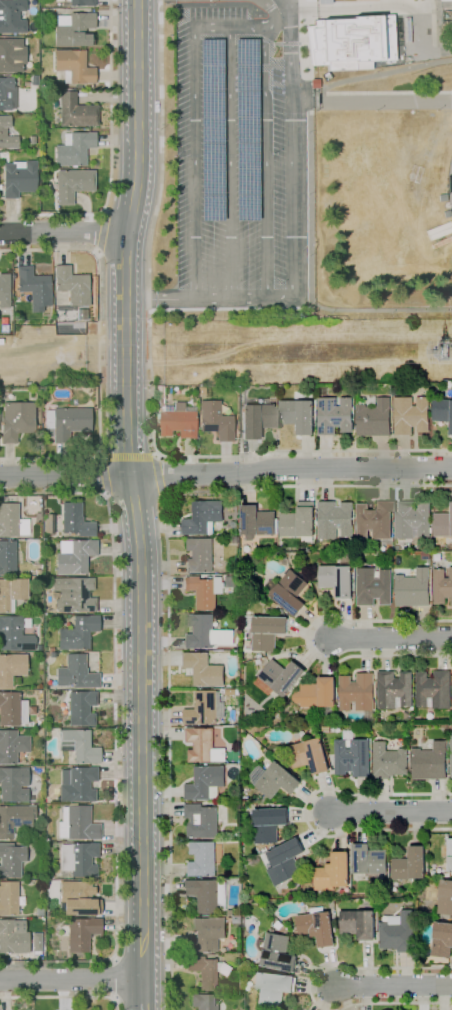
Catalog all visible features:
building: (444, 0)
building: (323, 1)
road: (444, 1)
building: (81, 3)
road: (321, 8)
building: (11, 16)
road: (446, 18)
building: (73, 29)
building: (350, 41)
road: (451, 50)
building: (11, 54)
road: (409, 54)
building: (73, 67)
road: (378, 72)
road: (385, 92)
building: (6, 93)
road: (371, 100)
road: (110, 106)
building: (76, 111)
road: (194, 123)
building: (6, 134)
parking lot: (236, 143)
road: (265, 146)
building: (75, 149)
road: (291, 149)
road: (427, 152)
road: (229, 163)
building: (324, 165)
building: (324, 170)
building: (325, 174)
building: (17, 177)
road: (447, 183)
building: (73, 184)
road: (50, 213)
road: (310, 225)
building: (438, 229)
road: (63, 232)
road: (98, 232)
building: (72, 285)
building: (35, 287)
building: (5, 290)
road: (210, 300)
building: (82, 314)
road: (100, 351)
power tower: (451, 353)
road: (152, 375)
building: (159, 393)
building: (443, 411)
building: (299, 415)
building: (335, 415)
building: (412, 415)
building: (375, 416)
building: (257, 419)
building: (17, 420)
building: (179, 420)
building: (215, 420)
building: (66, 422)
road: (304, 451)
road: (325, 451)
road: (382, 452)
road: (402, 452)
road: (126, 456)
road: (249, 456)
road: (188, 457)
road: (224, 458)
road: (98, 473)
road: (226, 474)
road: (165, 476)
road: (132, 488)
building: (204, 517)
building: (336, 519)
building: (413, 519)
building: (12, 520)
building: (76, 520)
building: (300, 520)
building: (375, 521)
building: (258, 522)
building: (49, 524)
building: (443, 526)
building: (236, 539)
building: (220, 540)
building: (74, 555)
building: (200, 555)
building: (7, 557)
building: (340, 577)
building: (442, 586)
building: (374, 587)
building: (414, 589)
building: (205, 591)
building: (12, 593)
building: (75, 593)
building: (291, 593)
road: (166, 608)
road: (344, 619)
road: (365, 622)
road: (420, 622)
road: (320, 626)
building: (201, 631)
building: (267, 631)
building: (78, 632)
road: (308, 632)
building: (14, 634)
building: (228, 636)
road: (307, 639)
road: (389, 639)
road: (313, 652)
road: (441, 654)
road: (385, 655)
road: (364, 656)
road: (327, 658)
building: (11, 668)
building: (204, 669)
building: (76, 672)
building: (281, 678)
building: (16, 679)
building: (395, 689)
building: (434, 690)
building: (358, 692)
building: (319, 697)
building: (82, 707)
building: (12, 708)
building: (206, 708)
building: (252, 711)
building: (341, 716)
building: (326, 729)
road: (115, 731)
building: (12, 745)
building: (79, 745)
building: (204, 746)
building: (451, 748)
building: (310, 756)
building: (354, 757)
building: (390, 761)
building: (431, 762)
building: (276, 779)
building: (206, 783)
building: (13, 784)
building: (77, 784)
road: (326, 793)
road: (361, 795)
road: (382, 796)
road: (436, 796)
road: (312, 802)
road: (305, 812)
road: (308, 814)
road: (389, 814)
building: (13, 819)
building: (202, 821)
building: (78, 823)
building: (270, 824)
road: (362, 829)
road: (317, 830)
road: (416, 830)
road: (340, 833)
building: (450, 855)
building: (79, 858)
building: (11, 859)
building: (203, 859)
building: (369, 860)
building: (286, 862)
building: (411, 865)
building: (334, 873)
building: (373, 878)
building: (417, 887)
building: (208, 895)
building: (9, 898)
building: (78, 898)
building: (446, 898)
building: (39, 911)
building: (231, 912)
building: (236, 919)
building: (395, 919)
building: (248, 922)
building: (359, 924)
building: (279, 925)
building: (318, 928)
building: (79, 932)
building: (399, 934)
building: (207, 935)
building: (13, 936)
building: (442, 940)
building: (36, 941)
building: (278, 952)
road: (395, 959)
road: (367, 962)
road: (328, 965)
road: (405, 969)
building: (208, 971)
road: (313, 974)
road: (71, 977)
road: (113, 979)
road: (311, 985)
road: (390, 985)
road: (309, 986)
building: (272, 989)
road: (143, 994)
road: (62, 997)
road: (322, 997)
road: (346, 997)
road: (364, 997)
road: (421, 997)
road: (442, 998)
building: (204, 1001)
road: (449, 1006)

